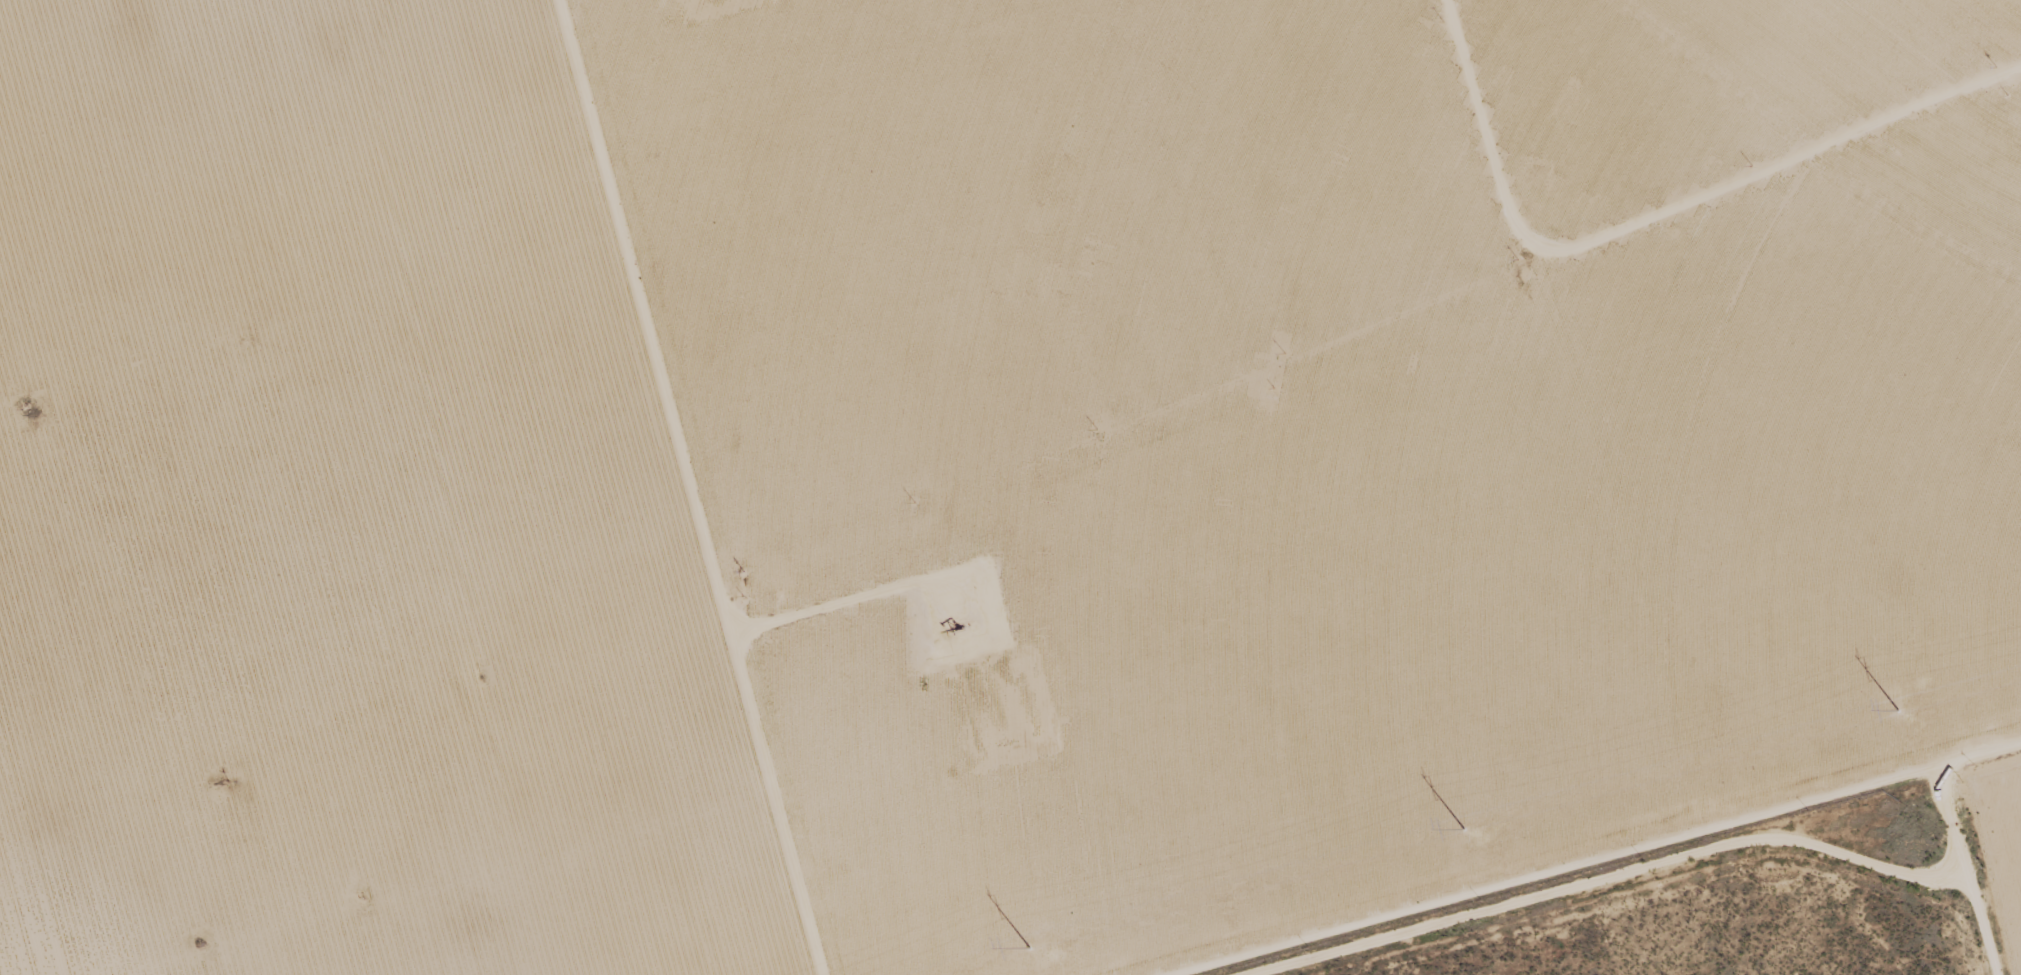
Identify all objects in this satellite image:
road: (690, 486)
power tower: (1898, 709)
power tower: (1464, 827)
road: (1628, 866)
power tower: (1030, 947)

